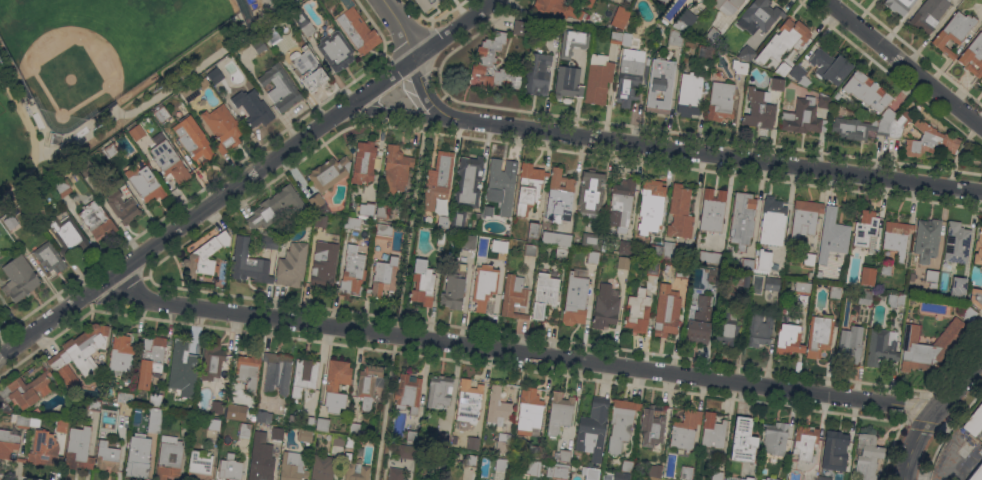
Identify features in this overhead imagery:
building: (627, 0)
building: (628, 0)
building: (702, 0)
building: (744, 0)
building: (664, 1)
building: (426, 4)
building: (726, 5)
building: (899, 5)
building: (562, 8)
road: (448, 11)
road: (418, 12)
road: (863, 12)
building: (928, 15)
building: (620, 16)
building: (758, 17)
building: (303, 21)
building: (684, 21)
road: (430, 24)
building: (356, 27)
road: (400, 27)
building: (519, 27)
road: (375, 28)
building: (981, 28)
building: (953, 32)
building: (712, 34)
building: (271, 35)
road: (472, 35)
building: (296, 36)
building: (620, 37)
building: (675, 37)
building: (783, 40)
building: (572, 42)
building: (258, 45)
park: (98, 50)
building: (335, 50)
building: (705, 52)
road: (431, 53)
building: (745, 53)
building: (973, 56)
building: (486, 59)
road: (903, 64)
building: (829, 66)
building: (741, 67)
building: (307, 68)
building: (782, 68)
park: (101, 72)
building: (536, 73)
building: (215, 74)
building: (799, 75)
building: (629, 76)
building: (980, 78)
building: (597, 79)
building: (567, 82)
building: (776, 84)
building: (660, 85)
building: (280, 87)
building: (866, 91)
building: (190, 92)
building: (689, 94)
road: (426, 95)
building: (720, 101)
building: (823, 101)
building: (251, 108)
park: (1, 109)
building: (759, 110)
building: (161, 113)
building: (887, 115)
building: (802, 117)
building: (898, 124)
building: (223, 127)
building: (858, 128)
building: (137, 131)
building: (56, 138)
building: (192, 138)
building: (929, 141)
road: (663, 145)
road: (46, 147)
building: (111, 149)
building: (169, 162)
building: (363, 162)
building: (85, 167)
building: (396, 168)
building: (329, 173)
building: (439, 175)
road: (246, 177)
building: (468, 181)
building: (502, 182)
building: (145, 183)
building: (61, 187)
building: (528, 187)
building: (591, 192)
road: (192, 195)
building: (559, 196)
road: (247, 197)
building: (37, 203)
building: (318, 203)
building: (620, 203)
building: (651, 206)
building: (122, 207)
building: (274, 207)
building: (366, 210)
building: (712, 210)
building: (382, 211)
building: (680, 213)
building: (804, 217)
building: (439, 218)
building: (742, 219)
building: (320, 220)
building: (458, 220)
building: (96, 221)
building: (772, 221)
building: (10, 222)
building: (352, 223)
building: (865, 228)
building: (384, 229)
building: (532, 231)
building: (68, 234)
building: (833, 236)
building: (440, 238)
building: (556, 238)
building: (897, 238)
building: (927, 239)
building: (590, 240)
building: (270, 242)
building: (468, 242)
building: (957, 242)
building: (500, 245)
building: (625, 247)
building: (978, 248)
building: (657, 250)
building: (669, 250)
building: (530, 253)
building: (562, 253)
building: (206, 255)
building: (49, 257)
building: (592, 257)
building: (710, 257)
building: (809, 259)
building: (764, 260)
building: (325, 262)
building: (623, 262)
building: (248, 263)
building: (292, 264)
building: (747, 264)
building: (885, 268)
building: (652, 270)
building: (677, 272)
building: (353, 273)
building: (711, 274)
building: (867, 275)
building: (383, 277)
building: (19, 278)
building: (931, 278)
building: (743, 279)
building: (422, 283)
building: (772, 283)
building: (958, 287)
building: (804, 288)
building: (484, 289)
road: (114, 290)
building: (453, 291)
building: (835, 292)
building: (514, 296)
building: (865, 297)
building: (975, 297)
road: (401, 298)
building: (543, 298)
building: (898, 300)
building: (575, 301)
building: (605, 309)
building: (637, 311)
building: (666, 313)
building: (969, 313)
building: (699, 320)
building: (727, 329)
building: (758, 329)
building: (819, 335)
building: (789, 339)
road: (47, 340)
building: (850, 345)
building: (881, 346)
building: (929, 348)
road: (516, 350)
building: (79, 353)
building: (121, 354)
road: (956, 358)
building: (151, 360)
building: (212, 362)
building: (182, 369)
building: (248, 370)
building: (277, 373)
building: (304, 376)
building: (336, 384)
building: (369, 384)
building: (25, 390)
building: (439, 390)
building: (408, 393)
building: (125, 398)
building: (155, 399)
building: (469, 399)
building: (94, 405)
road: (916, 406)
building: (217, 407)
building: (497, 407)
building: (125, 409)
building: (36, 411)
building: (236, 411)
building: (529, 411)
building: (559, 412)
road: (933, 412)
building: (262, 415)
building: (155, 420)
building: (186, 420)
building: (974, 420)
building: (25, 421)
building: (307, 422)
building: (621, 423)
building: (214, 424)
building: (322, 424)
building: (61, 426)
building: (651, 427)
building: (355, 428)
building: (593, 428)
road: (946, 428)
building: (245, 429)
building: (685, 429)
building: (713, 431)
building: (277, 433)
building: (304, 434)
building: (411, 436)
building: (442, 438)
building: (775, 438)
building: (338, 440)
building: (743, 440)
building: (351, 442)
building: (472, 442)
building: (804, 442)
building: (8, 443)
building: (503, 444)
building: (79, 448)
building: (45, 449)
building: (835, 450)
road: (889, 450)
building: (406, 451)
building: (535, 451)
building: (564, 455)
building: (107, 456)
building: (138, 456)
building: (867, 457)
building: (169, 458)
building: (261, 458)
building: (21, 459)
building: (470, 460)
building: (500, 464)
building: (199, 465)
building: (293, 466)
building: (627, 466)
building: (322, 467)
building: (230, 468)
building: (531, 468)
building: (655, 470)
building: (356, 471)
building: (559, 471)
building: (686, 472)
building: (590, 473)
building: (976, 473)
building: (396, 474)
building: (716, 475)
building: (621, 476)
road: (940, 476)
road: (17, 477)
building: (747, 478)
building: (824, 478)
road: (939, 478)
building: (775, 479)

